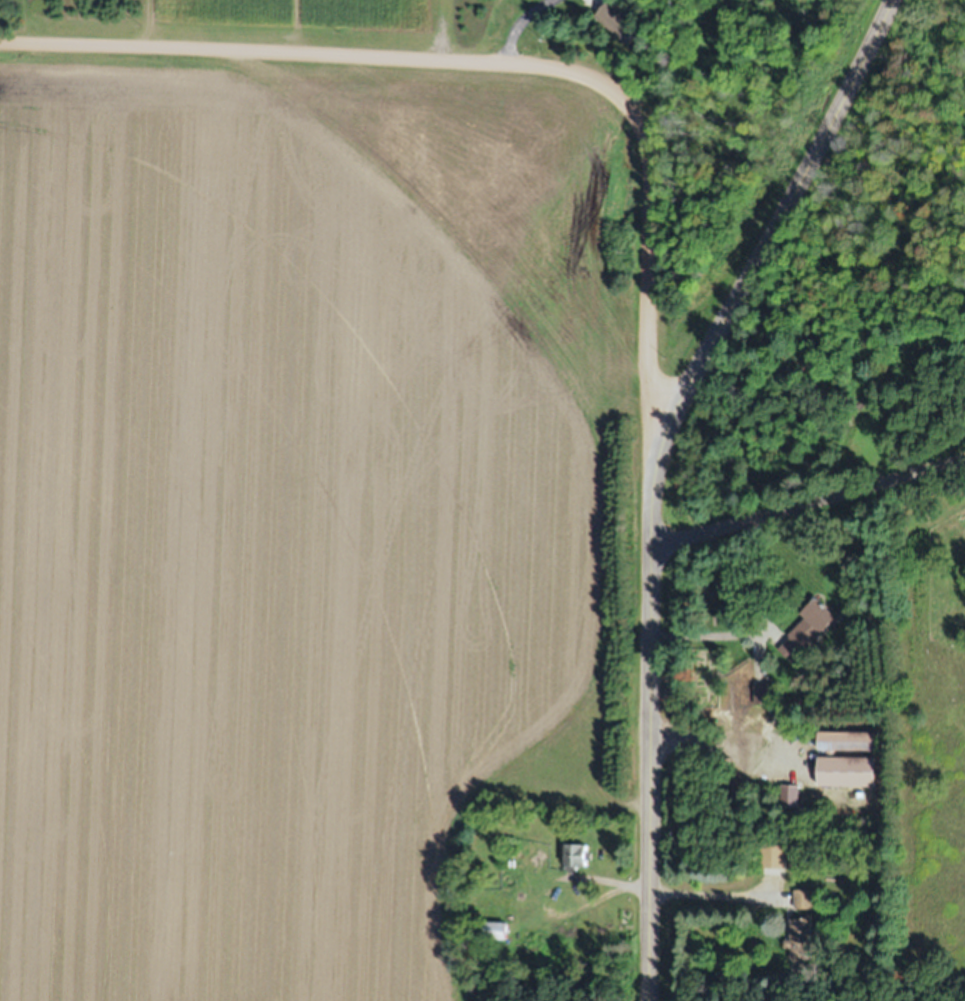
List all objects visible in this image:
building: (617, 16)
road: (496, 57)
road: (771, 222)
road: (807, 499)
crop: (302, 509)
building: (807, 632)
road: (650, 722)
building: (850, 742)
building: (850, 771)
building: (790, 795)
building: (577, 855)
building: (779, 857)
building: (804, 898)
building: (495, 930)
building: (801, 938)

